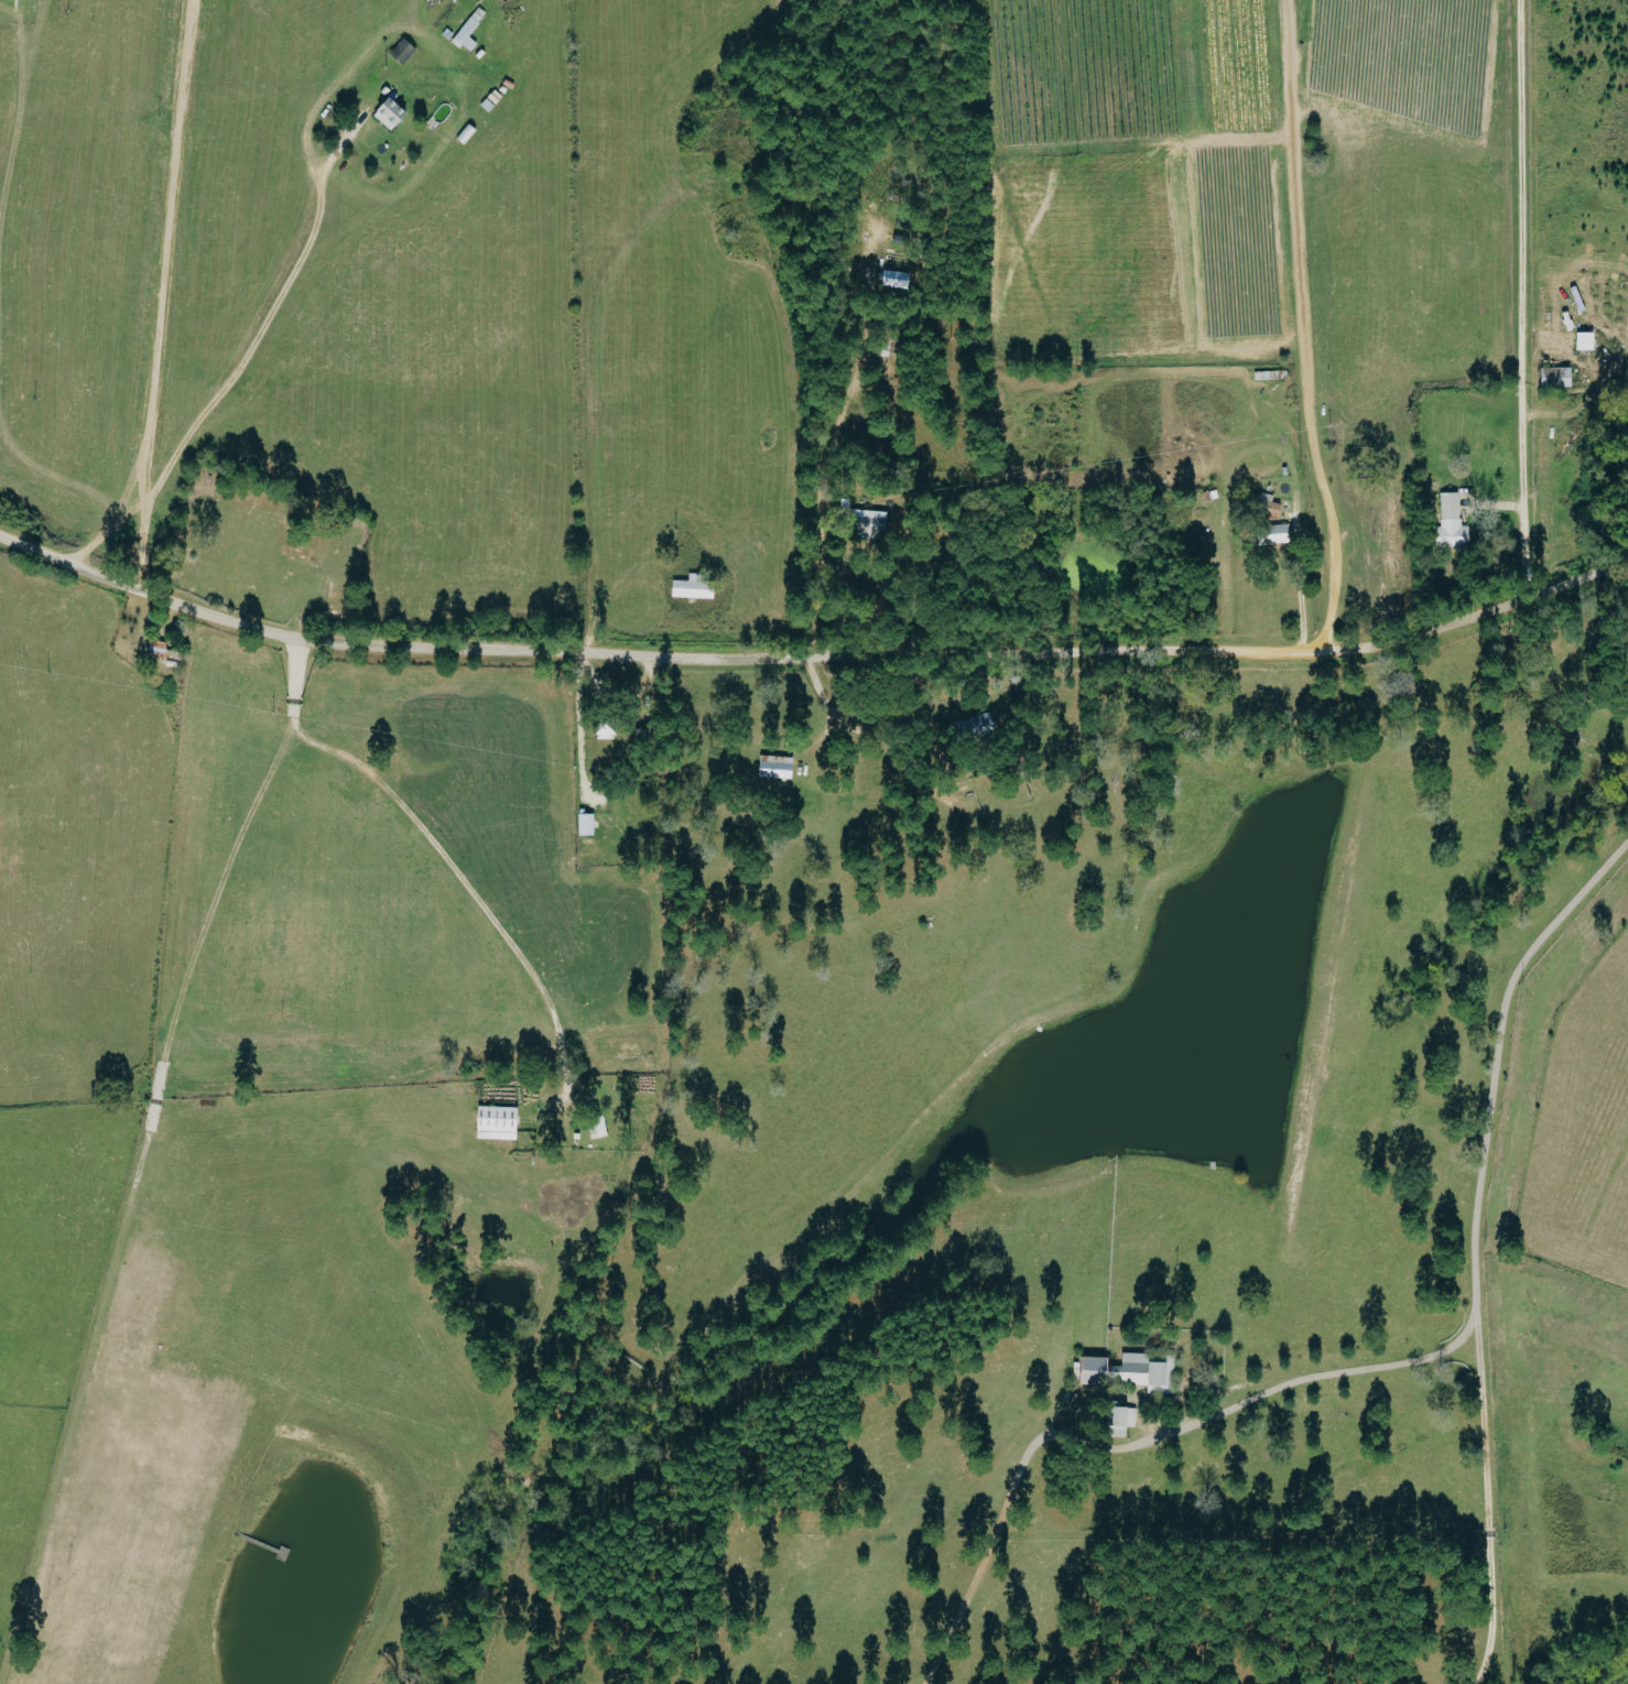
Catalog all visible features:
building: (471, 31)
building: (394, 115)
building: (901, 280)
road: (166, 296)
road: (1518, 298)
road: (263, 318)
road: (1306, 328)
building: (1589, 343)
building: (1560, 378)
road: (815, 506)
building: (873, 522)
building: (1455, 523)
building: (1281, 535)
park: (261, 548)
building: (696, 588)
road: (812, 653)
road: (614, 687)
building: (780, 767)
road: (428, 829)
building: (501, 1123)
road: (1480, 1245)
building: (1131, 1372)
building: (1127, 1417)
road: (1142, 1442)

